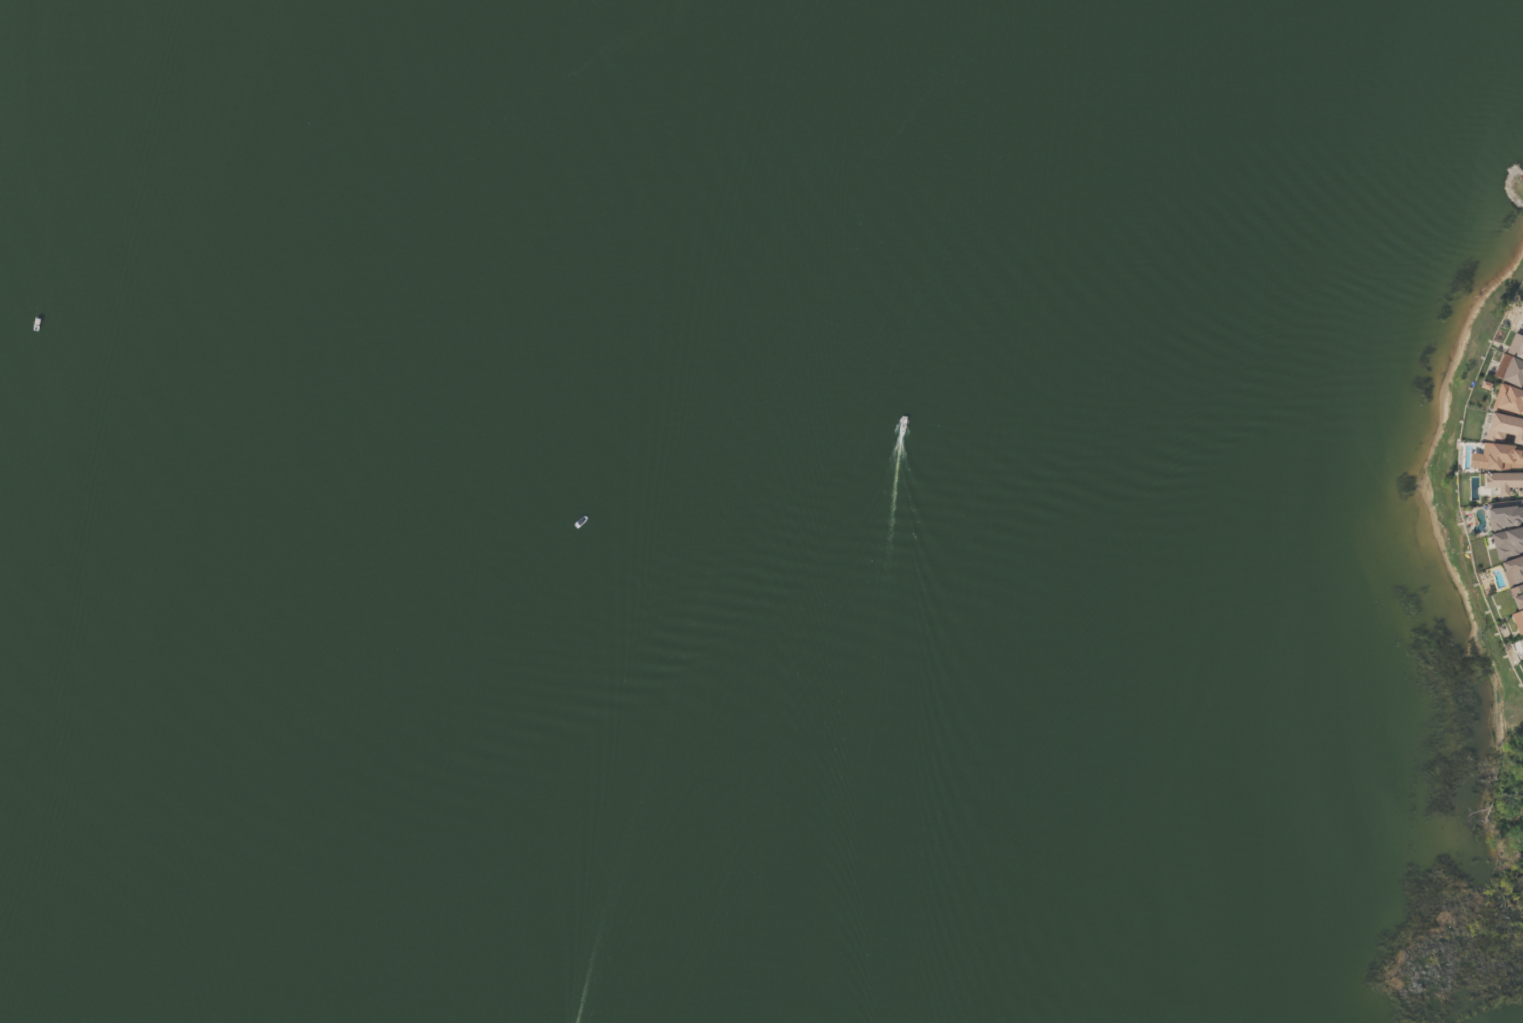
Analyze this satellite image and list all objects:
river: (655, 462)

